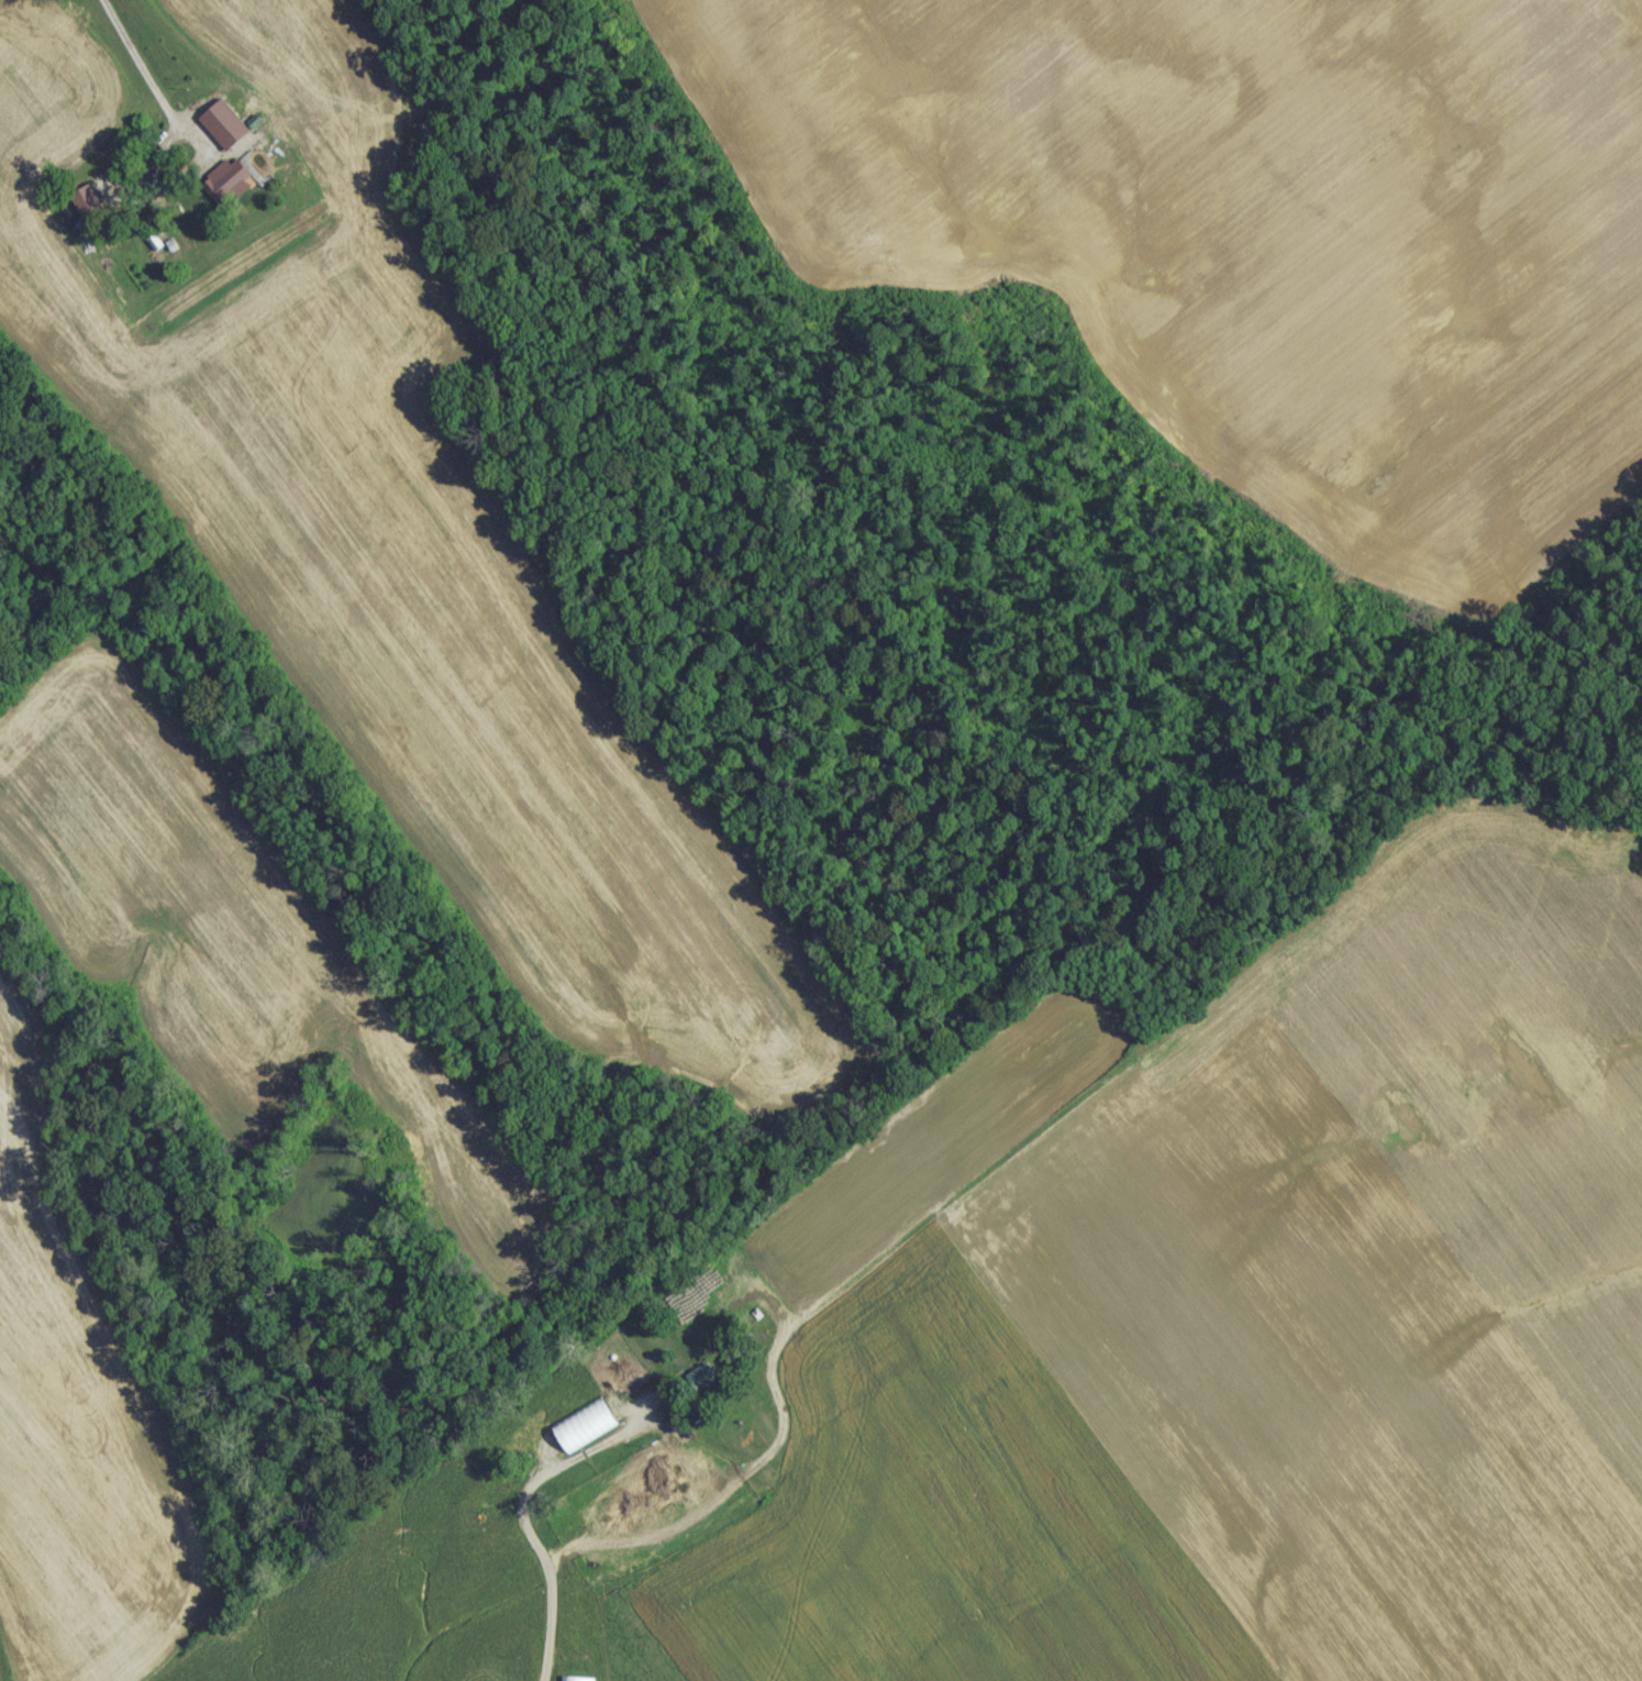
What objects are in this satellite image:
road: (133, 62)
building: (236, 190)
building: (589, 1428)
road: (534, 1549)

